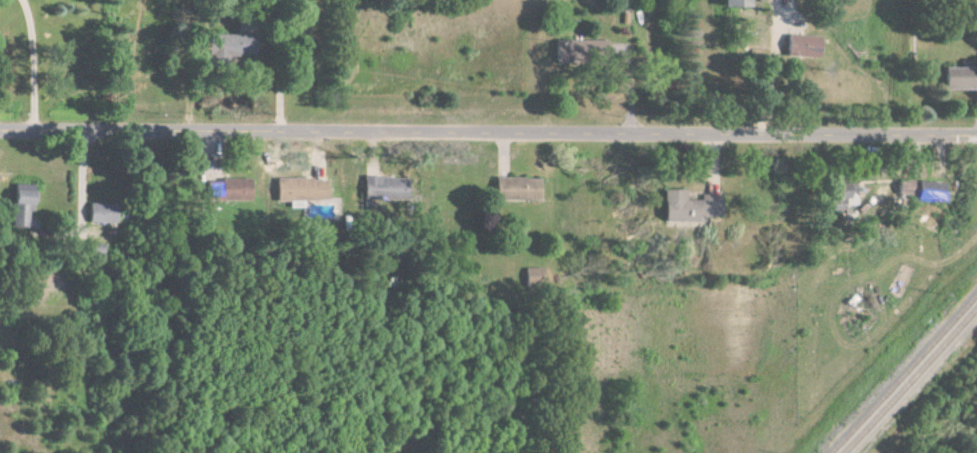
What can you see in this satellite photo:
building: (732, 3)
building: (797, 46)
building: (577, 51)
road: (771, 65)
road: (38, 66)
building: (959, 79)
road: (488, 131)
road: (82, 186)
building: (378, 189)
building: (514, 189)
building: (226, 190)
building: (299, 191)
building: (925, 192)
building: (834, 198)
building: (20, 204)
building: (681, 208)
building: (100, 213)
railway: (903, 373)
railway: (909, 380)

